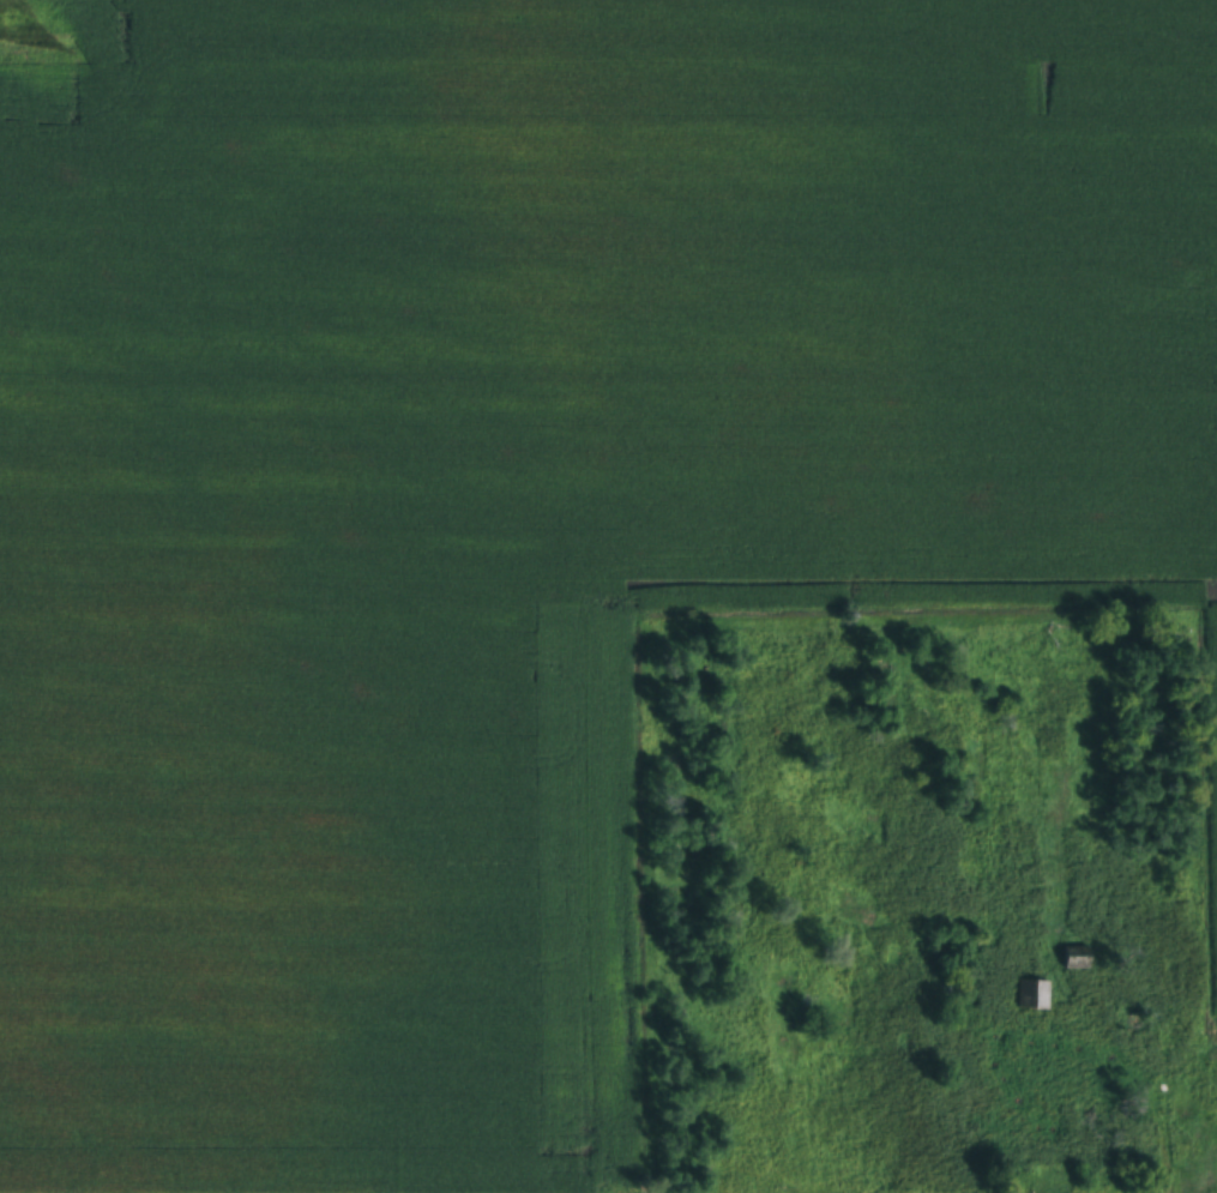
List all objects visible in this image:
building: (1073, 958)
building: (1030, 994)

